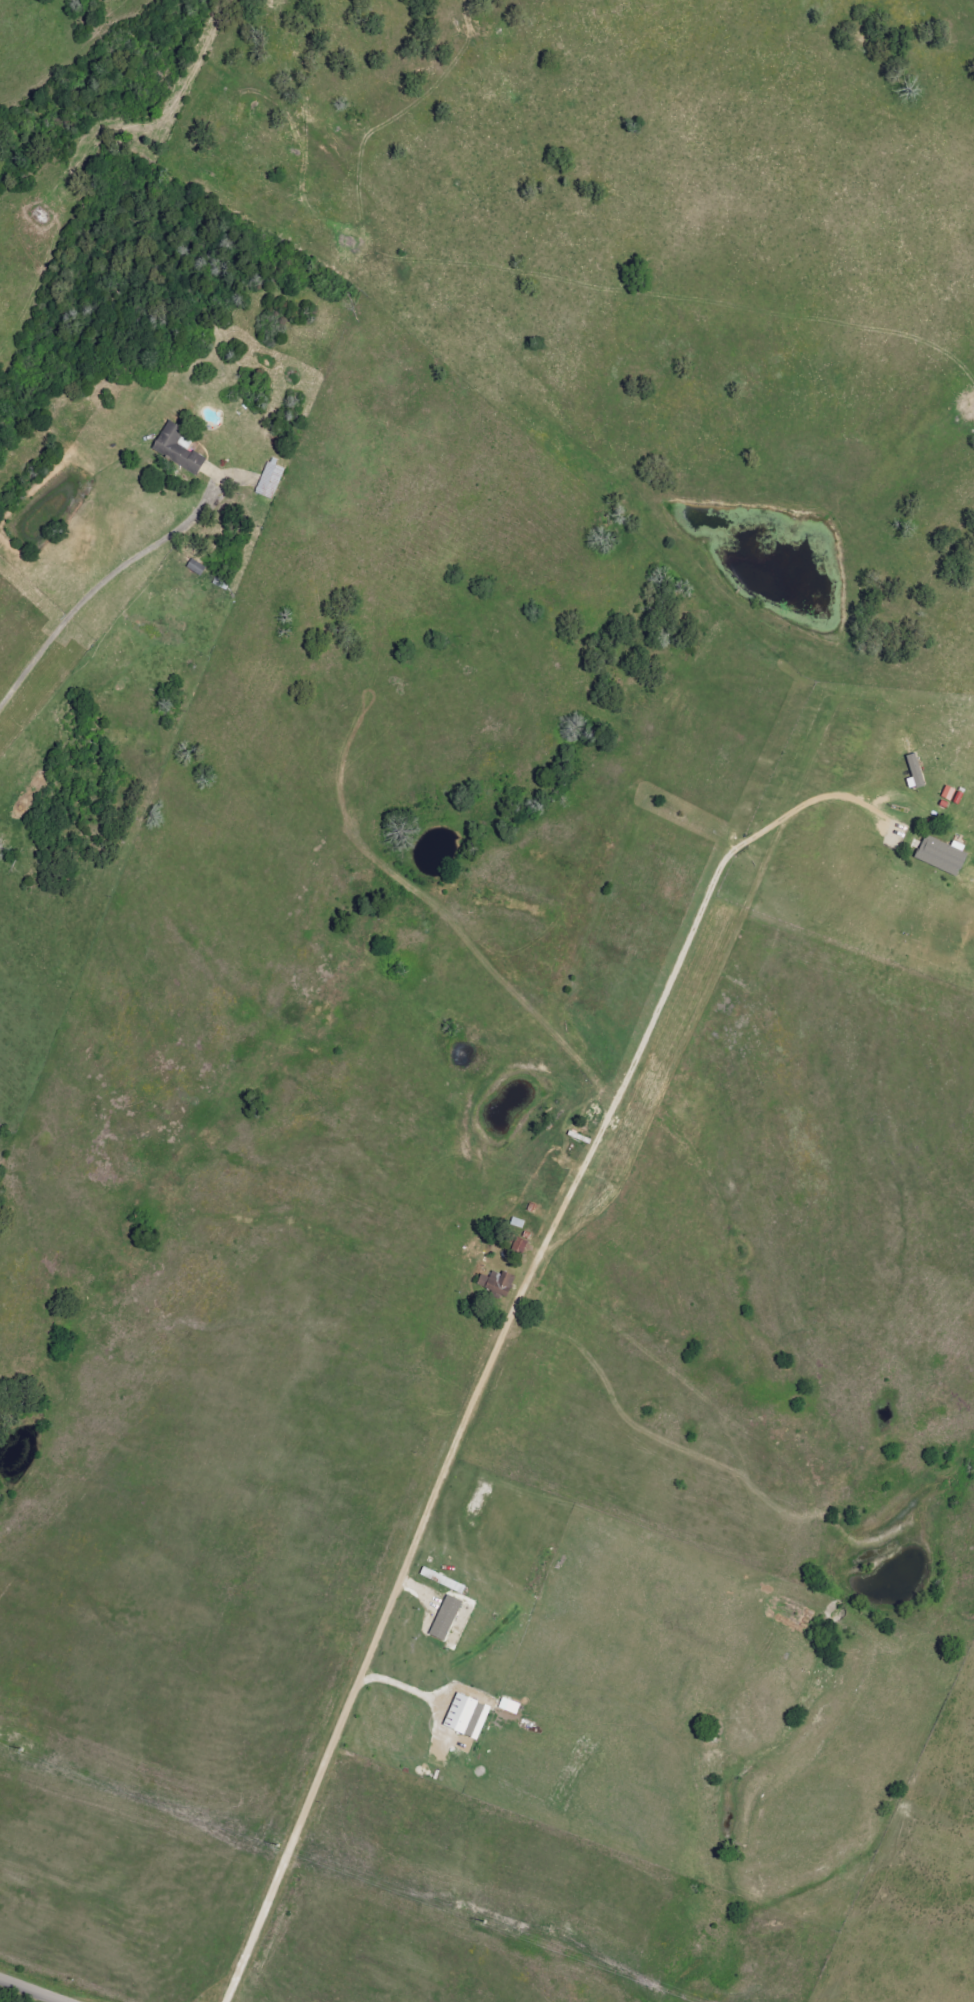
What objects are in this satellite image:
building: (179, 450)
building: (272, 479)
road: (101, 588)
building: (916, 774)
building: (943, 856)
building: (499, 1284)
road: (498, 1350)
building: (447, 1618)
building: (510, 1707)
building: (468, 1717)
road: (22, 1992)

